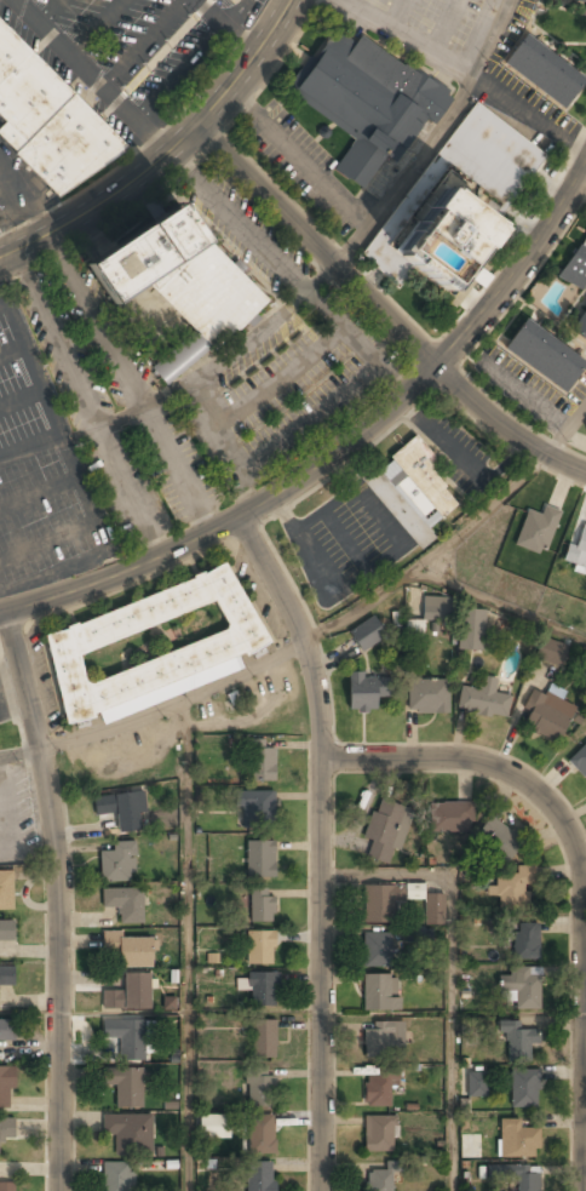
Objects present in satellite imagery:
building: (578, 1)
road: (52, 10)
road: (243, 13)
road: (98, 25)
road: (146, 42)
parking lot: (138, 47)
building: (544, 71)
building: (367, 103)
building: (48, 118)
road: (143, 120)
road: (167, 151)
building: (501, 155)
building: (432, 233)
building: (576, 265)
building: (178, 284)
road: (381, 314)
building: (580, 328)
road: (12, 345)
building: (544, 357)
road: (22, 394)
road: (565, 428)
road: (30, 445)
road: (340, 447)
road: (70, 452)
parking lot: (42, 469)
road: (39, 488)
building: (412, 493)
building: (536, 531)
building: (578, 550)
road: (432, 555)
road: (499, 605)
building: (435, 609)
building: (414, 629)
building: (471, 630)
building: (366, 635)
building: (151, 647)
building: (550, 653)
building: (366, 693)
building: (427, 697)
building: (483, 699)
road: (174, 700)
building: (546, 718)
road: (477, 761)
building: (580, 761)
building: (262, 762)
building: (255, 808)
building: (121, 811)
building: (447, 818)
building: (383, 831)
building: (499, 842)
road: (322, 843)
building: (259, 859)
building: (117, 863)
building: (513, 888)
building: (6, 891)
road: (56, 899)
building: (378, 904)
building: (123, 905)
building: (259, 905)
building: (433, 911)
building: (6, 932)
building: (525, 941)
road: (186, 943)
building: (259, 947)
building: (377, 950)
building: (130, 951)
road: (452, 969)
building: (6, 978)
building: (521, 987)
building: (262, 989)
building: (128, 995)
building: (380, 995)
building: (6, 1031)
building: (126, 1037)
building: (263, 1040)
building: (383, 1040)
building: (517, 1041)
building: (476, 1086)
building: (125, 1087)
building: (380, 1087)
building: (5, 1088)
building: (258, 1088)
building: (523, 1089)
building: (213, 1127)
building: (6, 1132)
building: (128, 1134)
building: (379, 1134)
building: (260, 1135)
building: (517, 1141)
building: (259, 1176)
building: (517, 1176)
building: (117, 1178)
building: (379, 1181)
building: (7, 1187)

